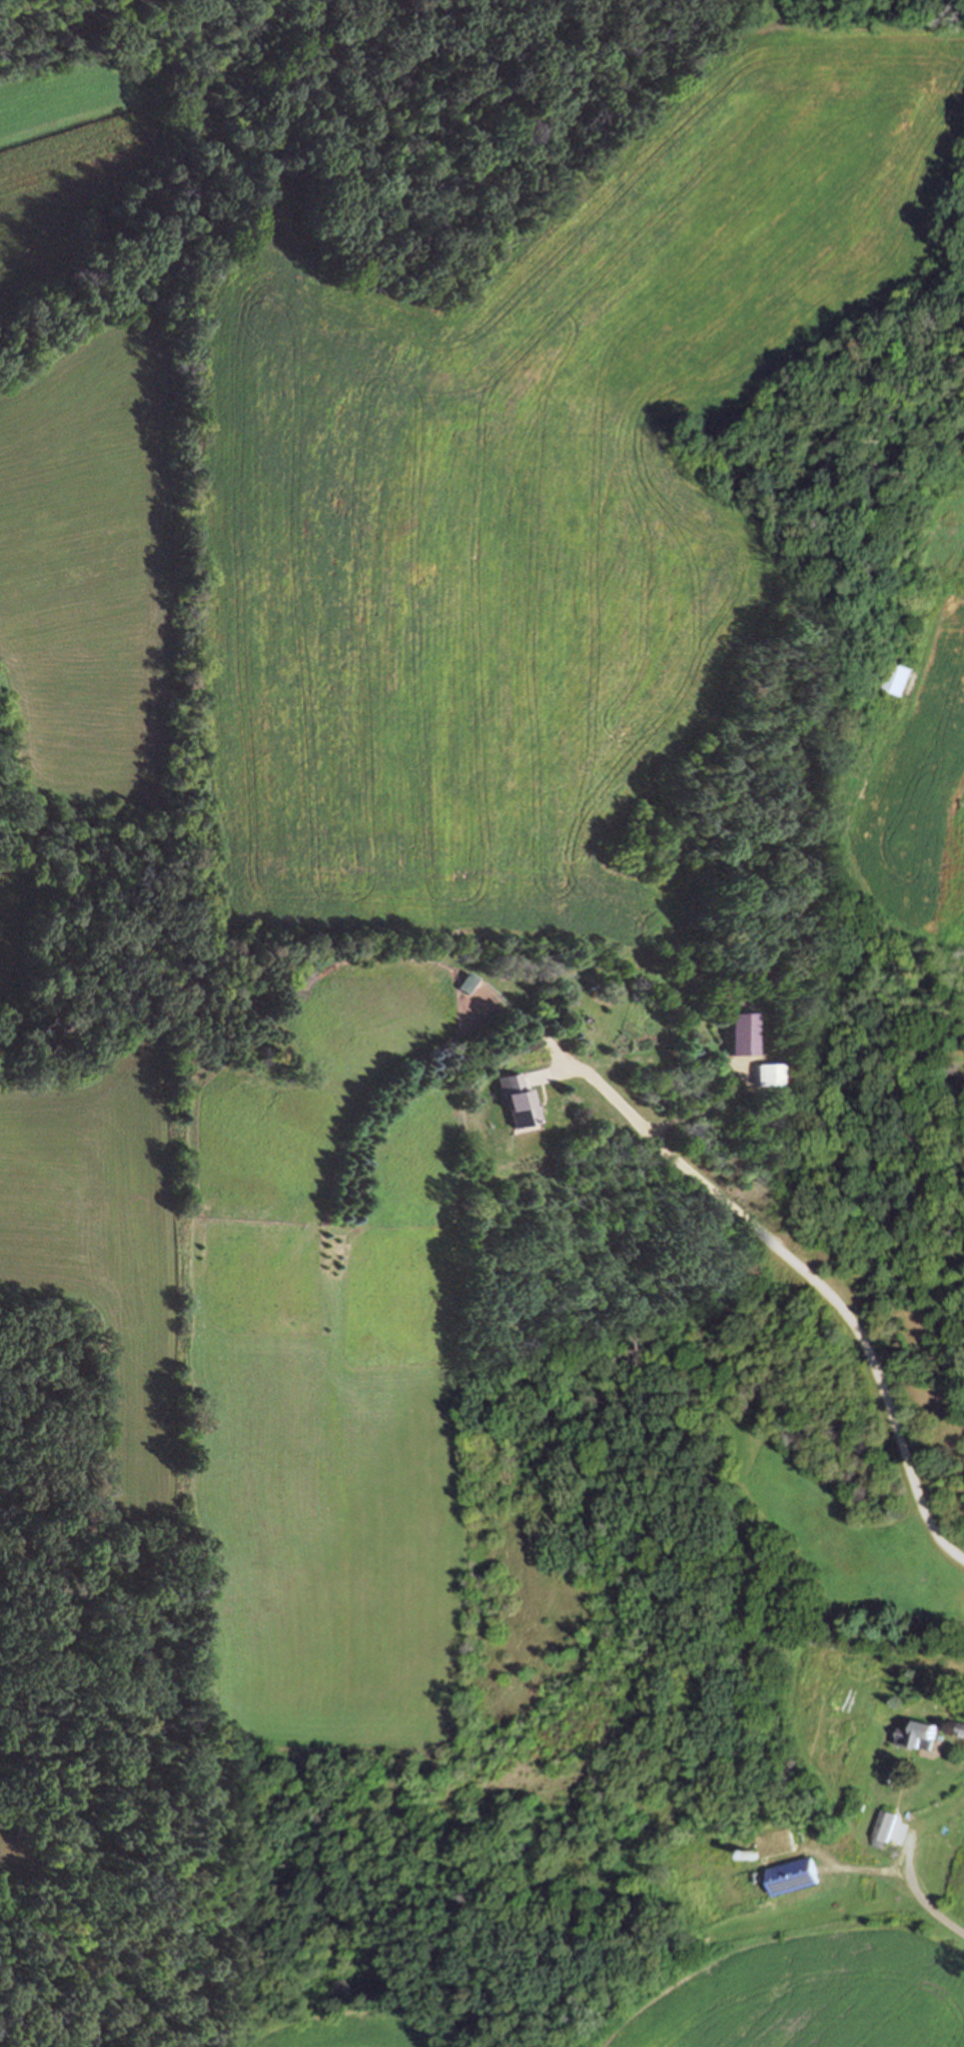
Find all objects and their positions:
building: (898, 677)
building: (464, 981)
building: (720, 1017)
building: (744, 1047)
building: (760, 1073)
building: (516, 1099)
road: (808, 1274)
building: (960, 1728)
building: (916, 1734)
building: (884, 1825)
road: (919, 1895)

